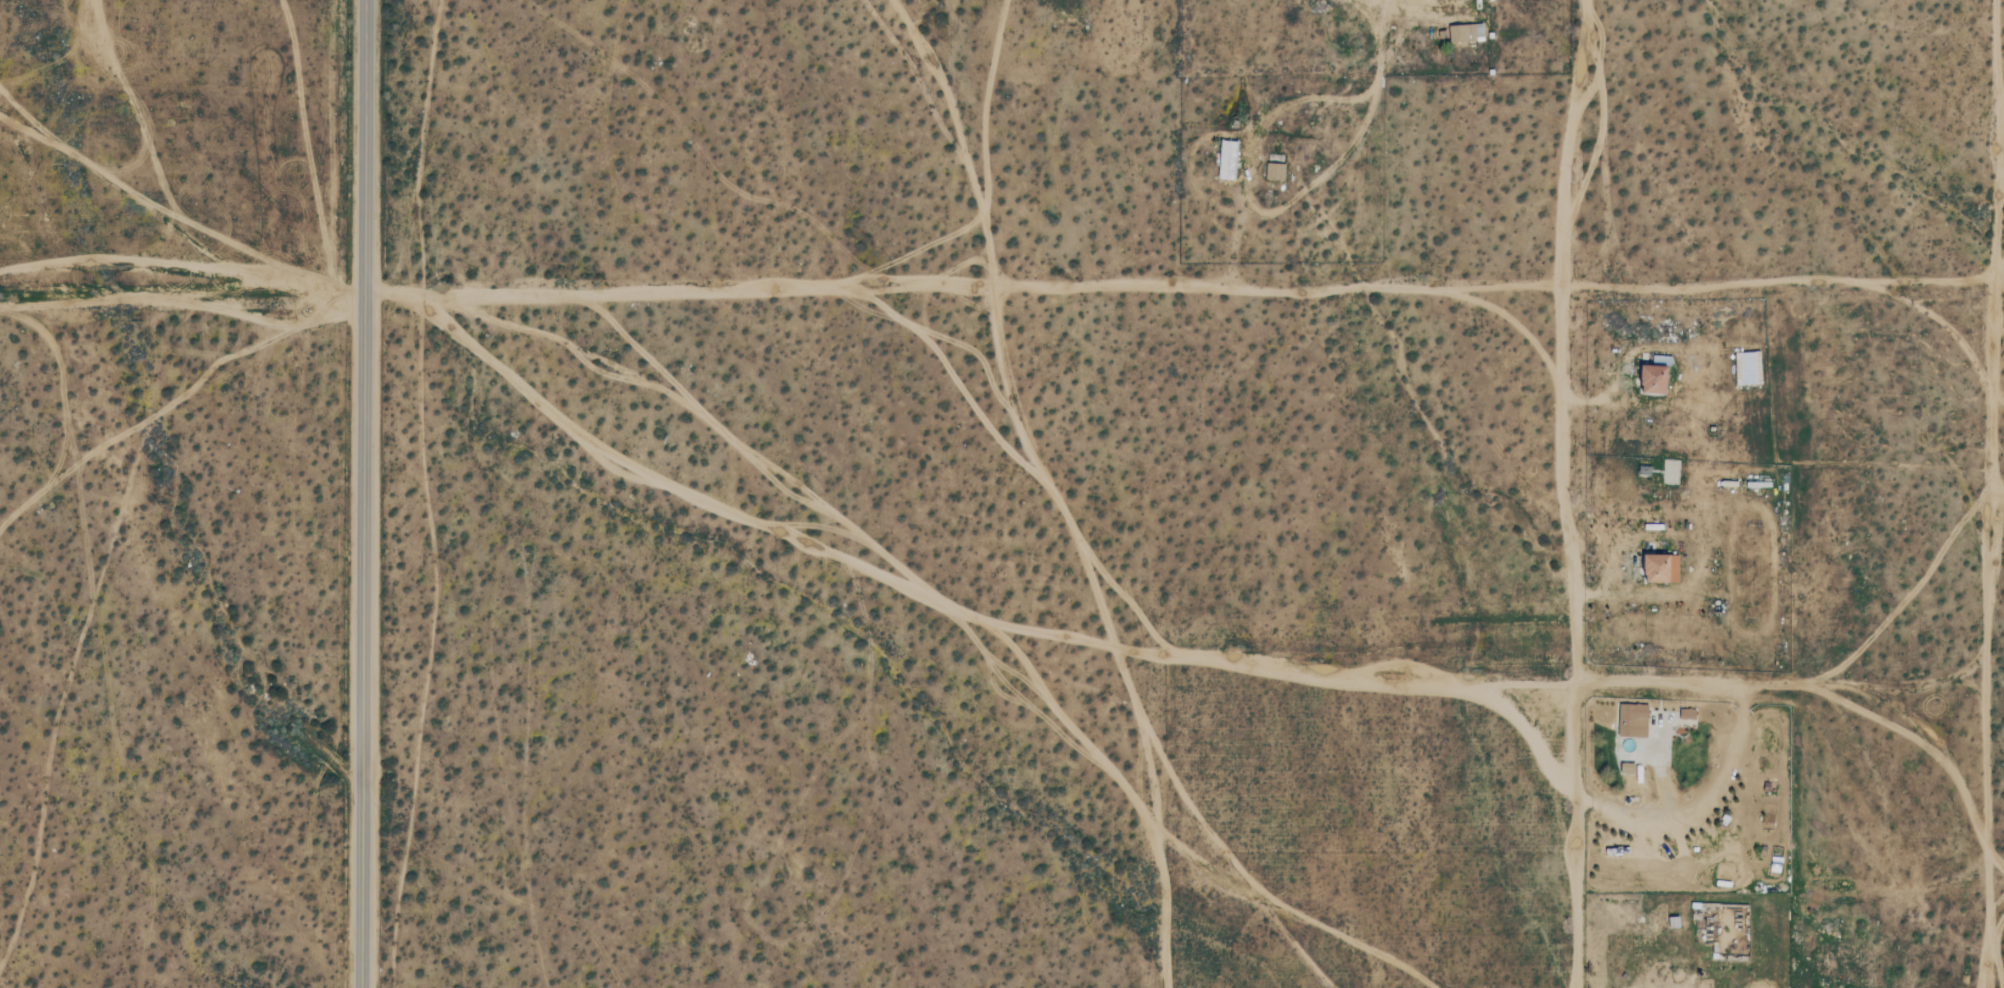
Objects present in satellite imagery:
road: (1381, 9)
road: (2003, 12)
building: (1477, 32)
building: (1460, 33)
road: (1379, 38)
building: (1228, 160)
building: (1275, 172)
road: (1247, 195)
road: (181, 292)
road: (1183, 293)
building: (1655, 379)
road: (1601, 401)
road: (1989, 489)
road: (362, 493)
road: (1568, 493)
road: (1603, 587)
road: (1979, 654)
road: (1809, 686)
building: (1688, 715)
building: (1633, 720)
building: (1627, 768)
road: (1700, 805)
road: (1992, 882)

